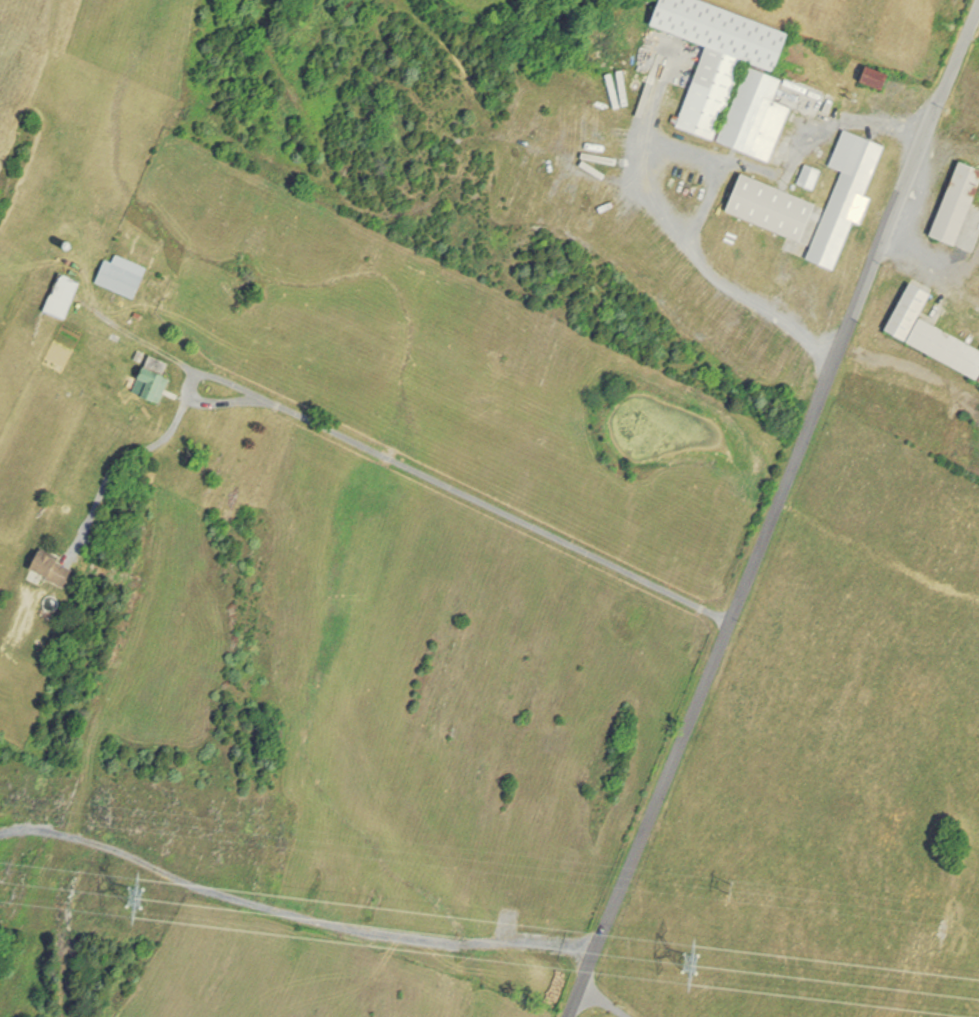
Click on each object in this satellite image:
road: (715, 180)
road: (145, 341)
road: (122, 467)
road: (418, 471)
road: (776, 506)
power tower: (109, 818)
power tower: (735, 890)
power tower: (136, 898)
power tower: (693, 964)
road: (577, 1002)
road: (614, 1007)

